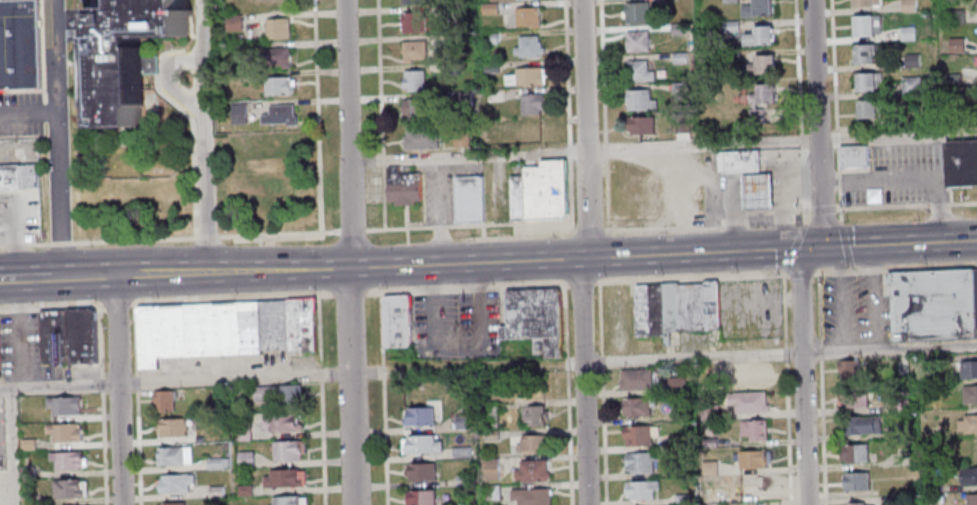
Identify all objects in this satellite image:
road: (96, 2)
building: (866, 3)
building: (278, 4)
building: (759, 8)
building: (637, 12)
building: (529, 16)
building: (415, 22)
building: (868, 25)
building: (279, 28)
building: (762, 36)
building: (639, 41)
building: (19, 43)
building: (957, 45)
building: (529, 46)
building: (129, 50)
building: (415, 50)
building: (864, 54)
building: (281, 56)
building: (766, 64)
road: (834, 65)
road: (798, 66)
road: (603, 71)
building: (641, 71)
road: (566, 72)
building: (527, 76)
road: (380, 77)
building: (415, 80)
building: (868, 81)
building: (280, 85)
building: (912, 85)
building: (764, 94)
building: (642, 99)
building: (533, 104)
building: (417, 109)
building: (868, 109)
road: (29, 112)
building: (240, 113)
building: (282, 115)
road: (317, 116)
road: (817, 124)
building: (642, 125)
road: (193, 127)
building: (535, 132)
road: (348, 133)
road: (205, 136)
road: (59, 138)
building: (422, 138)
building: (462, 138)
road: (837, 138)
road: (801, 140)
road: (662, 147)
road: (605, 149)
road: (569, 151)
road: (801, 151)
building: (853, 155)
road: (383, 160)
building: (739, 163)
building: (962, 163)
parking lot: (894, 173)
building: (18, 178)
road: (803, 180)
road: (840, 184)
building: (403, 186)
building: (545, 191)
road: (606, 192)
parking lot: (723, 193)
building: (758, 193)
road: (570, 194)
road: (384, 198)
building: (517, 198)
building: (469, 199)
road: (906, 206)
road: (822, 208)
road: (804, 215)
road: (708, 224)
road: (471, 225)
road: (589, 228)
road: (353, 230)
road: (279, 235)
road: (208, 237)
road: (99, 242)
road: (845, 244)
road: (899, 244)
road: (794, 248)
traffic signals: (823, 248)
traffic signals: (798, 249)
road: (585, 252)
road: (869, 258)
road: (838, 259)
road: (443, 263)
road: (740, 264)
road: (850, 269)
road: (895, 269)
road: (800, 274)
road: (477, 275)
road: (767, 275)
road: (741, 276)
road: (32, 277)
road: (426, 277)
road: (666, 279)
road: (784, 281)
road: (582, 283)
road: (466, 288)
road: (349, 293)
road: (784, 296)
road: (792, 296)
road: (762, 298)
road: (230, 299)
road: (116, 305)
building: (934, 305)
road: (740, 306)
road: (100, 307)
parking lot: (751, 307)
building: (711, 308)
road: (819, 309)
parking lot: (855, 309)
building: (669, 310)
building: (691, 310)
building: (648, 312)
building: (536, 318)
building: (397, 321)
building: (302, 324)
parking lot: (456, 324)
road: (784, 324)
building: (275, 325)
building: (198, 330)
road: (318, 331)
road: (864, 332)
building: (79, 336)
building: (52, 337)
road: (136, 339)
road: (455, 341)
road: (820, 352)
road: (779, 353)
road: (785, 353)
road: (100, 356)
building: (848, 371)
building: (968, 371)
road: (320, 374)
road: (801, 376)
road: (175, 381)
building: (635, 381)
road: (137, 382)
road: (350, 385)
building: (676, 385)
road: (118, 390)
road: (602, 393)
building: (261, 394)
road: (567, 394)
building: (216, 396)
building: (290, 396)
building: (969, 396)
building: (162, 399)
road: (384, 399)
building: (852, 400)
building: (62, 404)
building: (748, 404)
building: (900, 406)
building: (637, 408)
building: (708, 412)
building: (487, 415)
building: (679, 415)
building: (535, 417)
building: (419, 418)
building: (461, 422)
building: (280, 424)
building: (968, 425)
building: (862, 427)
building: (171, 428)
building: (62, 431)
building: (754, 431)
building: (242, 432)
road: (787, 432)
road: (822, 432)
building: (902, 433)
building: (490, 436)
building: (639, 436)
building: (198, 439)
building: (680, 441)
building: (26, 443)
road: (323, 443)
building: (708, 443)
road: (11, 446)
building: (422, 446)
building: (532, 446)
road: (139, 447)
building: (286, 452)
building: (461, 453)
building: (854, 455)
building: (174, 457)
building: (65, 459)
building: (245, 460)
building: (750, 460)
building: (225, 462)
building: (214, 463)
building: (638, 464)
building: (490, 469)
building: (709, 469)
building: (25, 472)
building: (531, 472)
building: (420, 473)
building: (968, 477)
building: (282, 480)
building: (462, 480)
building: (855, 482)
building: (175, 484)
building: (66, 488)
building: (932, 488)
building: (641, 490)
building: (244, 491)
building: (215, 492)
building: (491, 493)
building: (531, 497)
building: (420, 498)
building: (28, 499)
building: (681, 500)
building: (899, 500)
building: (971, 500)
building: (286, 501)
building: (176, 504)
building: (855, 504)

